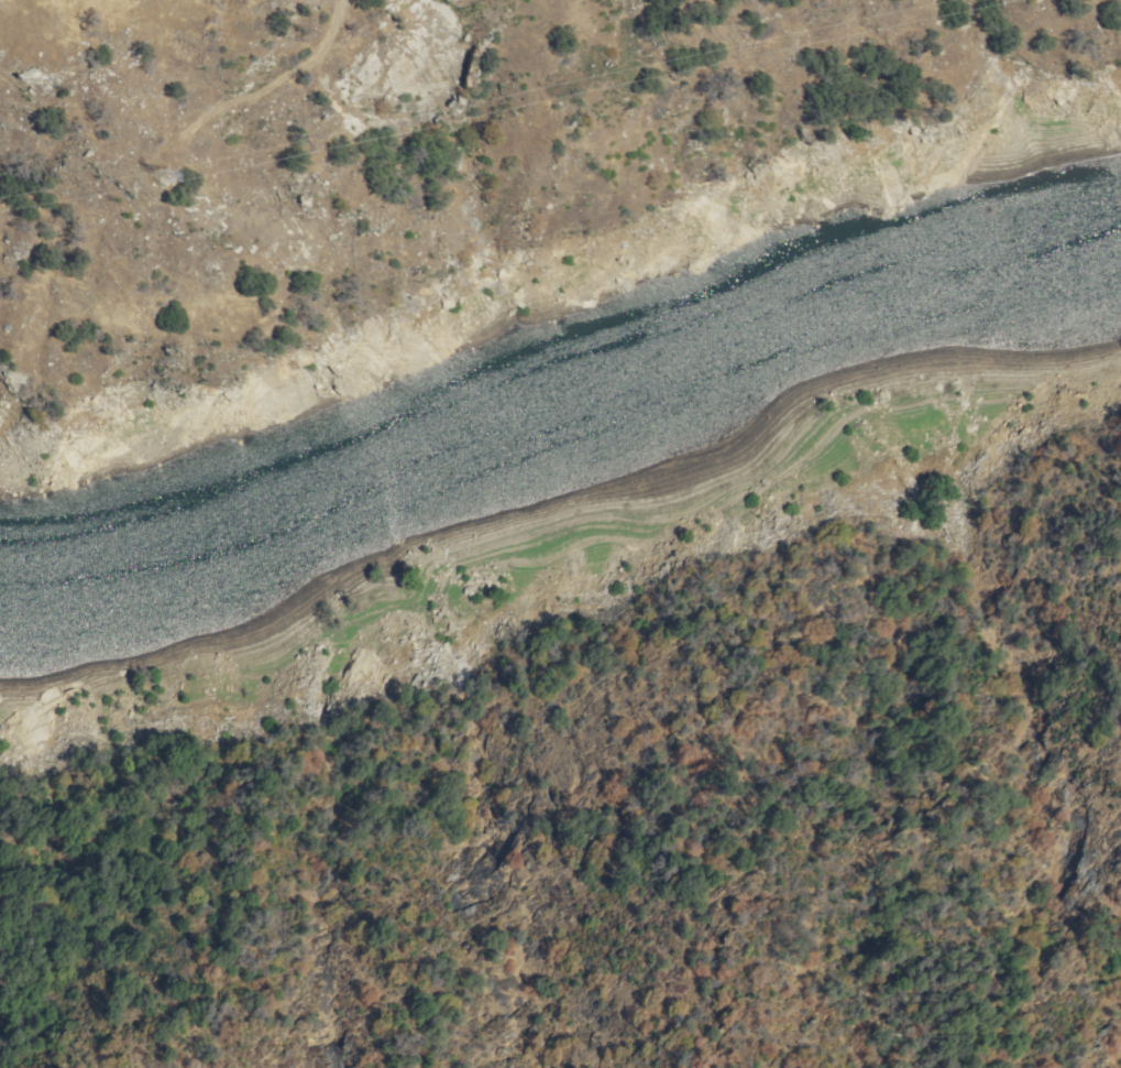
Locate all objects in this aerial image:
power tower: (157, 178)
river: (1086, 260)
river: (740, 372)
river: (219, 566)

